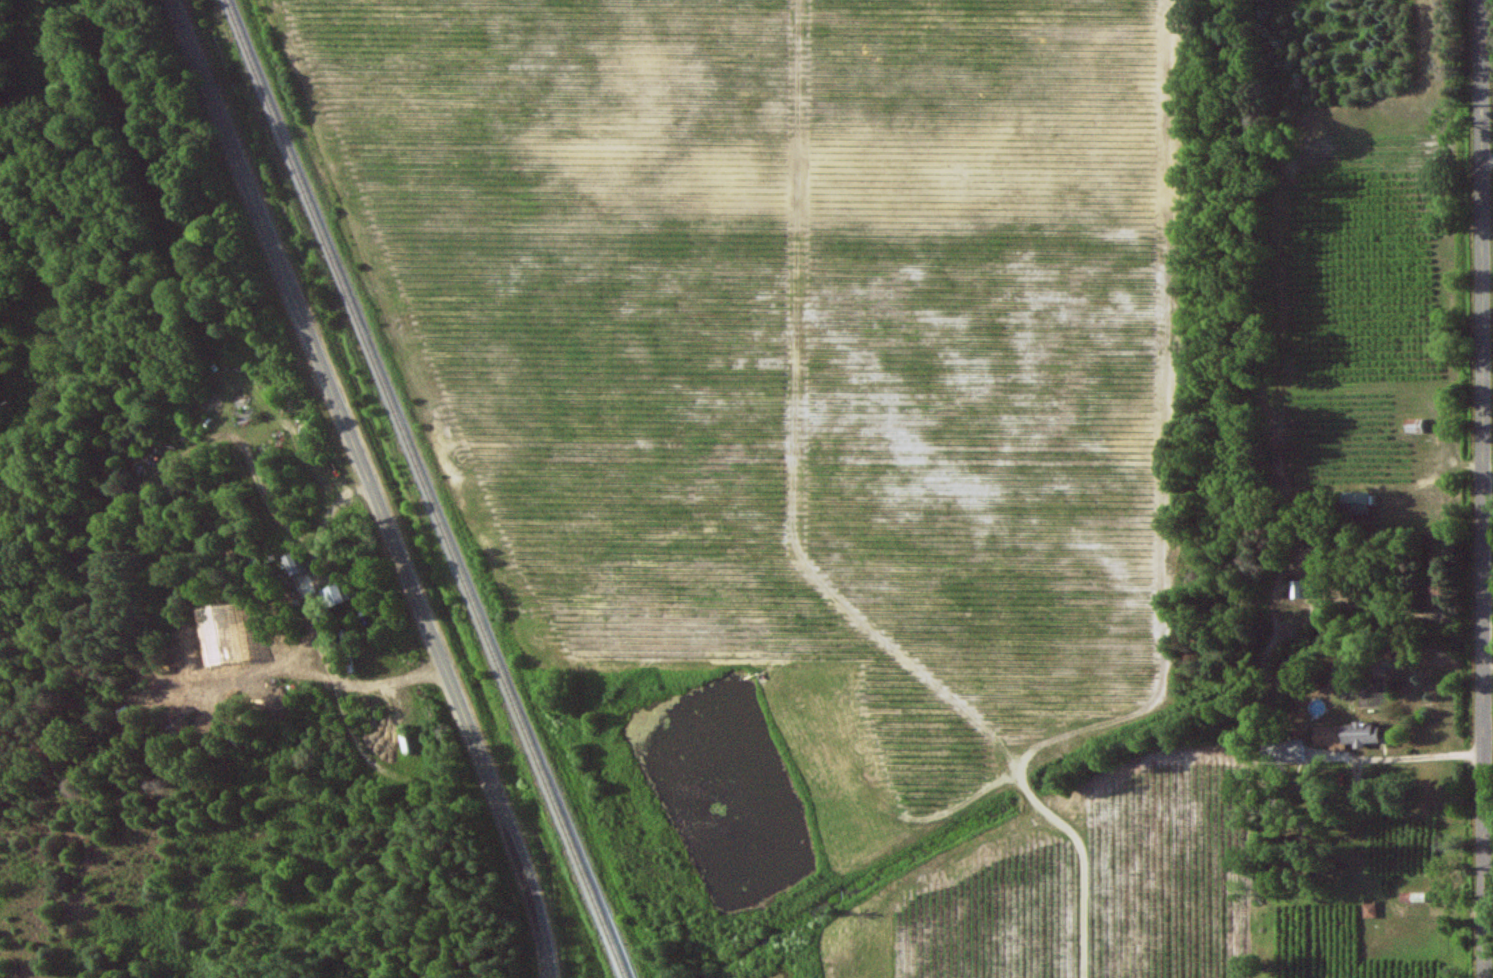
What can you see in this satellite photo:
road: (1487, 163)
building: (1411, 425)
road: (370, 485)
road: (1483, 488)
railway: (427, 489)
building: (1354, 503)
building: (295, 563)
building: (1296, 589)
building: (334, 595)
road: (391, 675)
road: (334, 678)
building: (1344, 735)
building: (1288, 751)
building: (1369, 910)

